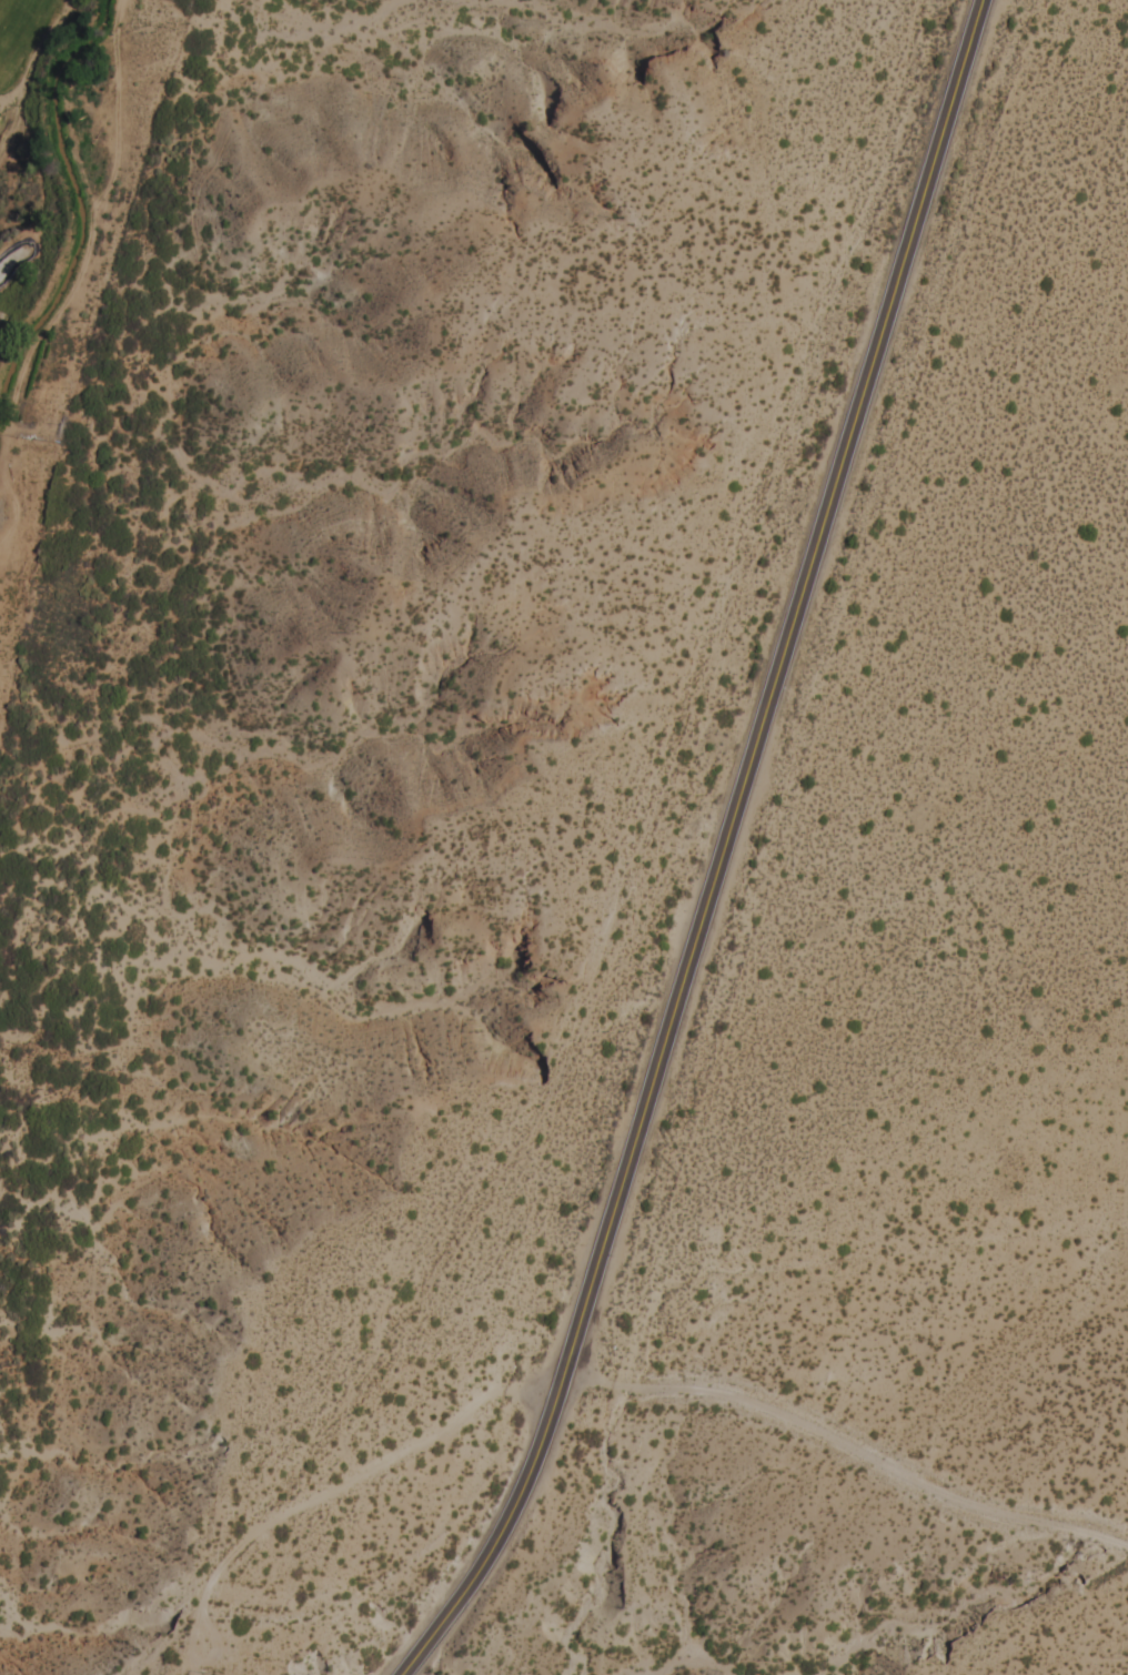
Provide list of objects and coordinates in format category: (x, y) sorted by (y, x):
road: (722, 851)
road: (532, 1388)
road: (848, 1436)
road: (334, 1494)

